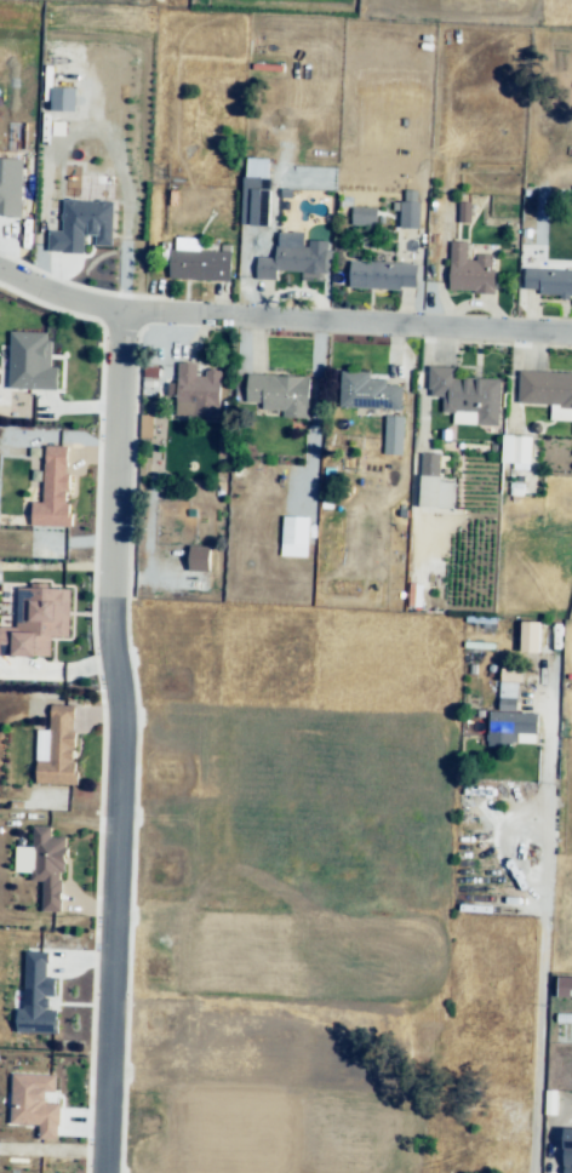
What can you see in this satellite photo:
building: (63, 98)
building: (10, 187)
building: (254, 191)
building: (464, 211)
building: (413, 217)
building: (365, 221)
building: (81, 225)
building: (204, 267)
building: (292, 268)
building: (388, 275)
building: (473, 275)
building: (555, 286)
road: (281, 316)
building: (30, 361)
building: (547, 394)
building: (202, 395)
building: (368, 396)
building: (280, 397)
building: (468, 397)
building: (147, 429)
building: (393, 435)
building: (517, 457)
building: (434, 470)
building: (52, 488)
building: (296, 538)
building: (198, 557)
building: (36, 620)
building: (530, 636)
building: (508, 692)
building: (514, 726)
road: (116, 744)
building: (56, 746)
building: (44, 865)
building: (564, 986)
building: (36, 996)
road: (543, 1017)
building: (34, 1103)
building: (208, 1138)
building: (330, 1151)
building: (457, 1154)
building: (567, 1155)
building: (571, 1165)

